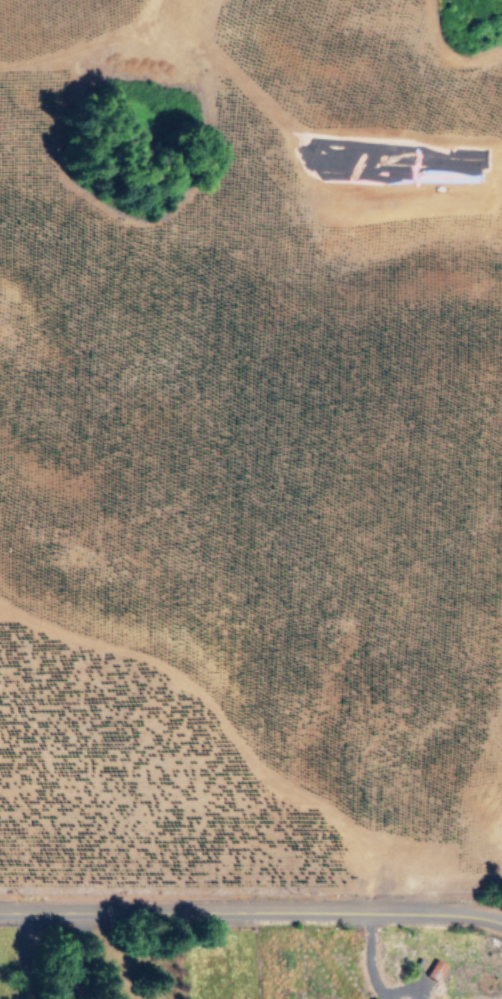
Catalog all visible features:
road: (253, 916)
road: (370, 958)
building: (433, 968)

